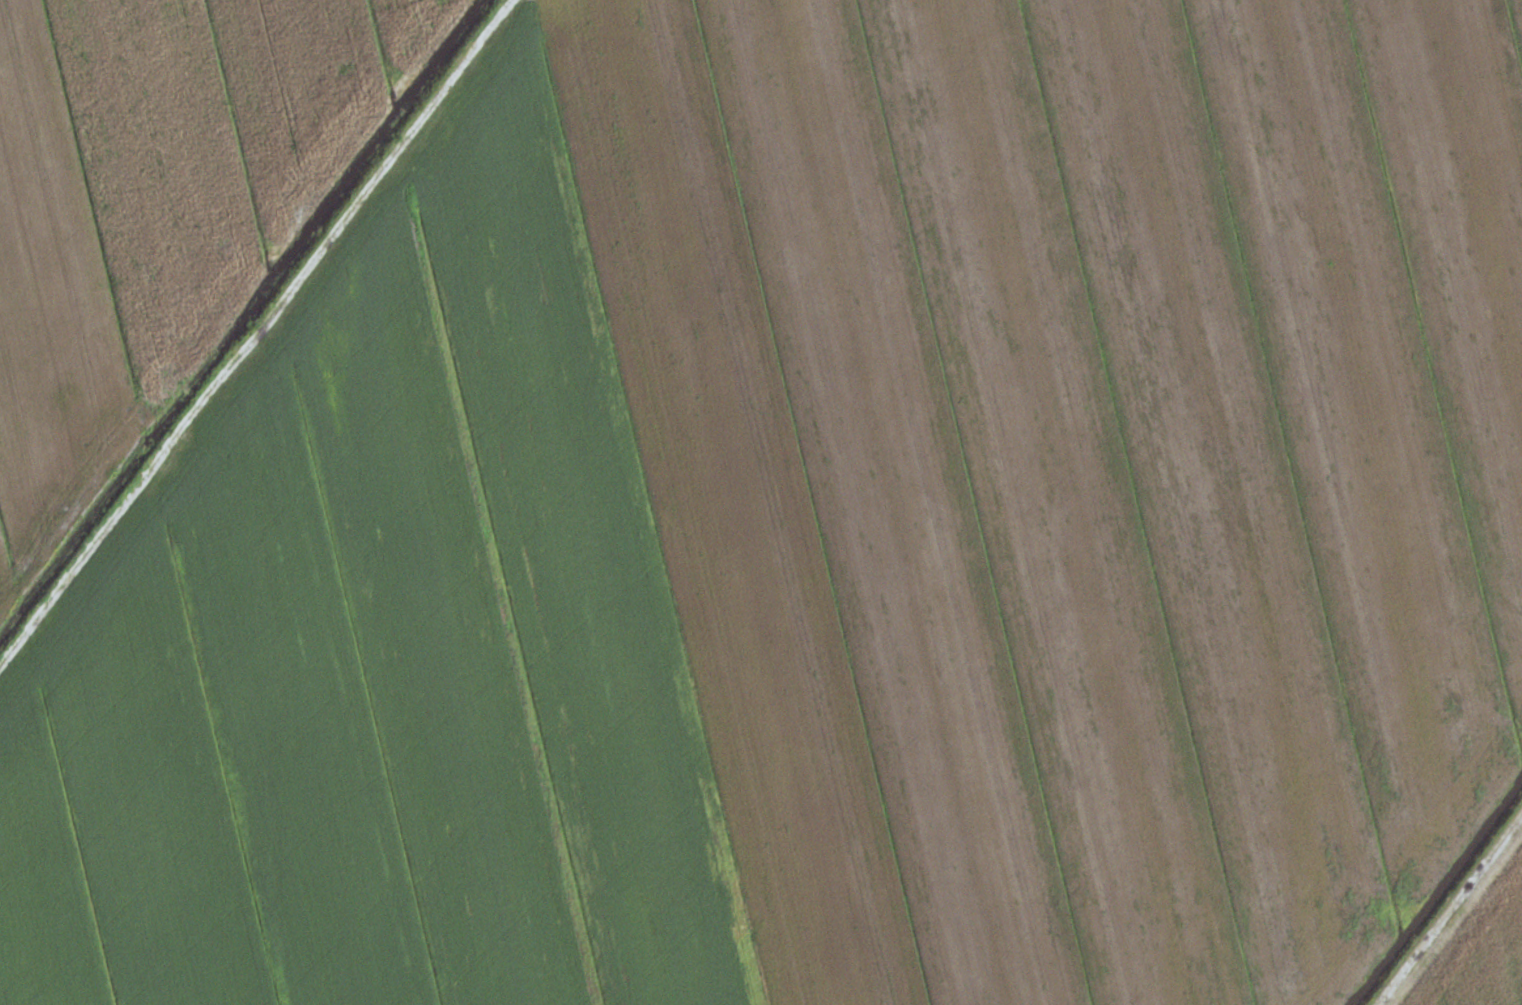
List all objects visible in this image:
crop: (156, 206)
road: (255, 334)
crop: (826, 531)
crop: (1474, 941)

